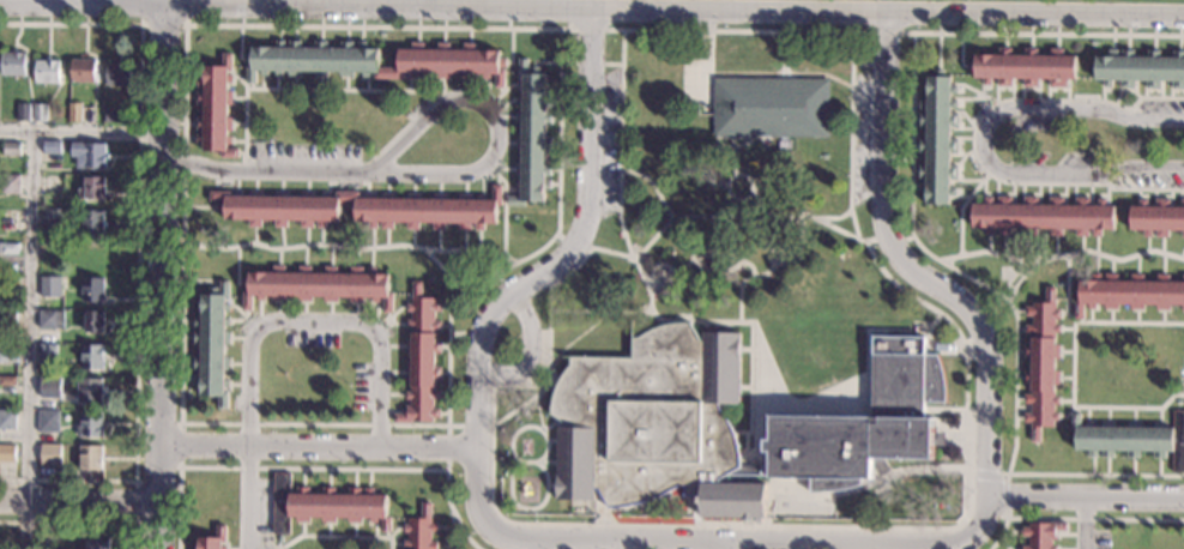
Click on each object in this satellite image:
park: (1057, 0)
road: (72, 5)
road: (145, 5)
road: (675, 13)
road: (162, 24)
road: (533, 29)
road: (591, 30)
road: (736, 31)
road: (882, 34)
road: (703, 55)
building: (373, 61)
building: (13, 64)
building: (1025, 68)
building: (1141, 70)
building: (84, 71)
building: (47, 72)
road: (778, 73)
building: (119, 74)
road: (302, 88)
road: (1050, 99)
building: (771, 108)
building: (216, 109)
building: (23, 113)
building: (40, 113)
building: (73, 113)
building: (113, 116)
road: (495, 125)
road: (81, 132)
building: (532, 137)
building: (937, 141)
road: (983, 141)
building: (52, 147)
building: (10, 149)
building: (89, 155)
road: (697, 161)
road: (266, 171)
road: (1041, 182)
building: (10, 185)
building: (53, 185)
building: (92, 188)
road: (756, 197)
road: (505, 204)
building: (362, 209)
road: (621, 211)
road: (848, 211)
building: (10, 216)
building: (1043, 217)
building: (49, 218)
building: (1158, 218)
road: (853, 222)
building: (92, 223)
park: (720, 224)
road: (911, 233)
building: (65, 237)
road: (687, 237)
building: (717, 240)
road: (573, 241)
building: (49, 247)
road: (349, 247)
building: (8, 249)
road: (137, 249)
road: (774, 251)
road: (615, 254)
road: (703, 255)
building: (92, 257)
road: (1061, 257)
road: (554, 267)
road: (914, 269)
road: (443, 270)
road: (771, 271)
road: (718, 272)
road: (161, 278)
building: (10, 282)
building: (49, 286)
building: (318, 286)
road: (1065, 289)
building: (91, 290)
building: (1129, 294)
road: (550, 295)
building: (7, 318)
building: (49, 319)
building: (93, 320)
road: (266, 325)
road: (750, 332)
road: (25, 340)
building: (212, 344)
road: (526, 349)
building: (8, 354)
building: (46, 354)
building: (91, 358)
building: (421, 358)
building: (1040, 364)
road: (1073, 367)
building: (7, 385)
road: (866, 385)
building: (49, 388)
building: (90, 391)
road: (537, 404)
road: (518, 405)
road: (966, 406)
building: (7, 420)
building: (48, 422)
road: (540, 422)
road: (157, 423)
road: (549, 424)
building: (721, 424)
building: (90, 426)
road: (447, 426)
road: (490, 435)
building: (1134, 439)
road: (551, 440)
road: (318, 444)
road: (180, 445)
building: (7, 454)
building: (49, 456)
road: (519, 458)
building: (89, 459)
road: (544, 460)
road: (316, 467)
road: (1007, 475)
road: (134, 482)
road: (551, 484)
road: (79, 501)
building: (324, 506)
road: (527, 508)
road: (1076, 518)
road: (79, 524)
road: (1082, 525)
road: (864, 529)
building: (421, 530)
road: (452, 530)
building: (1043, 535)
road: (324, 536)
road: (709, 538)
road: (753, 538)
building: (212, 539)
road: (833, 543)
building: (95, 544)
road: (536, 544)
road: (729, 545)
road: (1003, 545)
road: (918, 547)
building: (6, 548)

